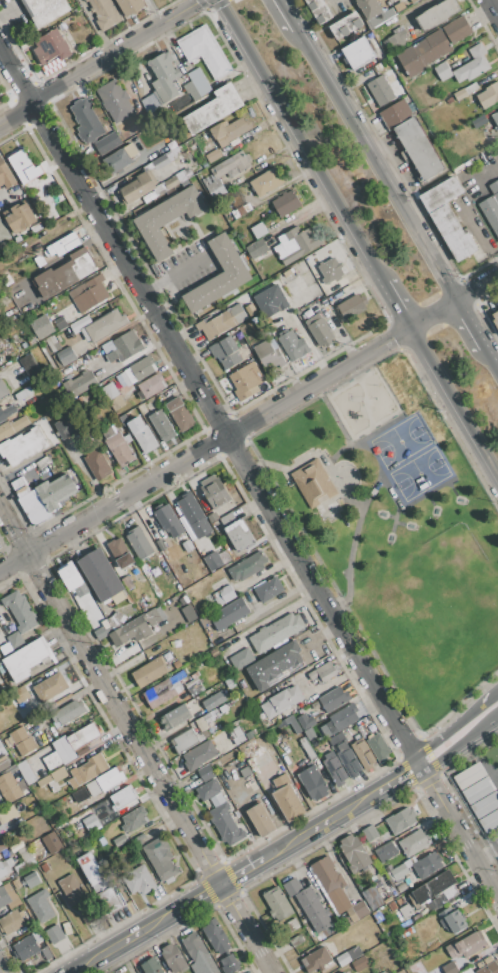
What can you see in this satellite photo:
building: (413, 1)
building: (129, 6)
road: (494, 6)
building: (369, 8)
building: (44, 10)
building: (319, 10)
building: (105, 13)
building: (437, 14)
road: (284, 15)
building: (381, 17)
road: (94, 26)
building: (346, 26)
building: (456, 30)
building: (397, 38)
building: (372, 39)
building: (432, 46)
building: (51, 47)
building: (205, 51)
building: (357, 52)
building: (381, 58)
road: (98, 60)
building: (410, 61)
building: (473, 64)
building: (442, 71)
building: (164, 77)
building: (199, 82)
building: (471, 88)
building: (191, 91)
building: (382, 93)
building: (460, 94)
building: (489, 95)
building: (115, 100)
building: (449, 101)
building: (214, 109)
building: (396, 114)
building: (495, 117)
building: (86, 119)
building: (479, 121)
building: (230, 131)
road: (299, 141)
building: (131, 143)
building: (143, 146)
building: (418, 150)
building: (213, 156)
building: (119, 160)
road: (373, 166)
building: (24, 167)
building: (224, 173)
building: (6, 175)
building: (266, 181)
building: (137, 187)
building: (494, 189)
building: (286, 203)
building: (247, 207)
building: (240, 210)
building: (490, 212)
building: (264, 216)
building: (20, 217)
building: (448, 217)
building: (167, 219)
building: (258, 230)
building: (3, 231)
road: (479, 236)
road: (115, 238)
building: (296, 244)
building: (64, 245)
building: (256, 250)
building: (331, 270)
building: (66, 273)
building: (218, 275)
building: (91, 294)
building: (270, 300)
road: (453, 301)
road: (395, 305)
building: (351, 306)
building: (249, 309)
building: (237, 313)
building: (495, 318)
building: (80, 324)
building: (215, 325)
road: (466, 325)
building: (41, 326)
building: (103, 326)
building: (319, 330)
building: (293, 345)
building: (50, 346)
building: (124, 347)
building: (225, 352)
building: (267, 355)
building: (66, 356)
building: (0, 360)
road: (489, 363)
building: (30, 366)
building: (141, 371)
building: (249, 380)
building: (261, 381)
building: (84, 382)
building: (152, 385)
building: (239, 386)
building: (2, 390)
building: (110, 392)
building: (23, 393)
building: (116, 402)
road: (453, 404)
building: (6, 413)
building: (179, 414)
building: (162, 425)
building: (12, 427)
building: (65, 427)
building: (142, 434)
road: (219, 439)
building: (22, 446)
building: (120, 448)
park: (409, 459)
building: (42, 462)
building: (97, 464)
building: (313, 483)
building: (19, 486)
building: (56, 491)
building: (214, 492)
building: (34, 507)
building: (193, 515)
building: (212, 518)
building: (168, 520)
park: (398, 530)
building: (236, 532)
building: (139, 542)
building: (162, 542)
building: (186, 546)
building: (120, 552)
road: (15, 562)
building: (247, 567)
park: (447, 570)
building: (100, 574)
building: (69, 576)
building: (127, 583)
building: (268, 589)
building: (81, 590)
building: (224, 596)
building: (183, 600)
building: (20, 611)
building: (229, 614)
building: (101, 617)
building: (189, 617)
building: (115, 620)
building: (202, 622)
building: (137, 626)
building: (103, 630)
building: (276, 632)
building: (15, 640)
building: (230, 644)
building: (5, 648)
building: (239, 657)
building: (27, 659)
road: (364, 663)
building: (176, 664)
building: (274, 665)
building: (150, 672)
building: (323, 672)
building: (30, 684)
building: (50, 687)
building: (163, 690)
building: (19, 695)
building: (333, 698)
building: (281, 701)
road: (492, 702)
building: (211, 704)
building: (313, 706)
building: (67, 712)
building: (211, 715)
building: (174, 718)
building: (340, 719)
building: (306, 722)
building: (291, 723)
road: (493, 723)
building: (201, 724)
building: (234, 733)
building: (249, 734)
road: (453, 734)
building: (18, 735)
building: (83, 736)
road: (136, 737)
building: (238, 739)
building: (185, 740)
building: (1, 745)
road: (455, 745)
building: (26, 746)
building: (378, 747)
building: (307, 748)
building: (64, 749)
building: (269, 749)
building: (362, 752)
building: (199, 755)
building: (256, 759)
building: (52, 760)
building: (348, 760)
building: (3, 762)
building: (335, 769)
building: (88, 771)
building: (245, 771)
building: (26, 772)
building: (206, 773)
building: (58, 774)
building: (44, 781)
building: (105, 781)
building: (313, 783)
building: (9, 788)
building: (208, 790)
building: (79, 795)
building: (480, 795)
building: (122, 797)
building: (287, 798)
building: (217, 800)
building: (8, 814)
building: (133, 819)
building: (261, 819)
building: (401, 820)
building: (91, 822)
building: (226, 824)
building: (370, 833)
building: (29, 838)
building: (55, 840)
building: (102, 841)
building: (120, 841)
building: (414, 842)
building: (1, 846)
building: (15, 846)
building: (383, 848)
building: (396, 848)
road: (487, 849)
building: (354, 853)
building: (160, 859)
building: (24, 861)
building: (410, 861)
building: (427, 865)
building: (5, 867)
building: (45, 867)
building: (90, 869)
road: (247, 869)
building: (397, 873)
building: (327, 874)
building: (30, 879)
building: (138, 880)
building: (16, 883)
building: (292, 887)
building: (400, 887)
building: (434, 887)
building: (71, 890)
building: (8, 897)
building: (110, 900)
building: (338, 900)
building: (400, 902)
building: (277, 904)
building: (377, 904)
building: (40, 906)
building: (391, 906)
building: (313, 909)
building: (405, 911)
building: (84, 916)
building: (411, 920)
building: (451, 920)
building: (11, 922)
building: (292, 924)
building: (406, 932)
building: (54, 934)
building: (216, 936)
building: (296, 941)
building: (466, 945)
building: (26, 948)
building: (199, 952)
building: (47, 953)
building: (348, 956)
building: (173, 958)
building: (315, 960)
building: (484, 962)
building: (230, 963)
building: (360, 963)
building: (151, 966)
building: (450, 968)
building: (489, 968)
road: (1, 969)
building: (344, 972)
building: (383, 972)
building: (401, 972)

